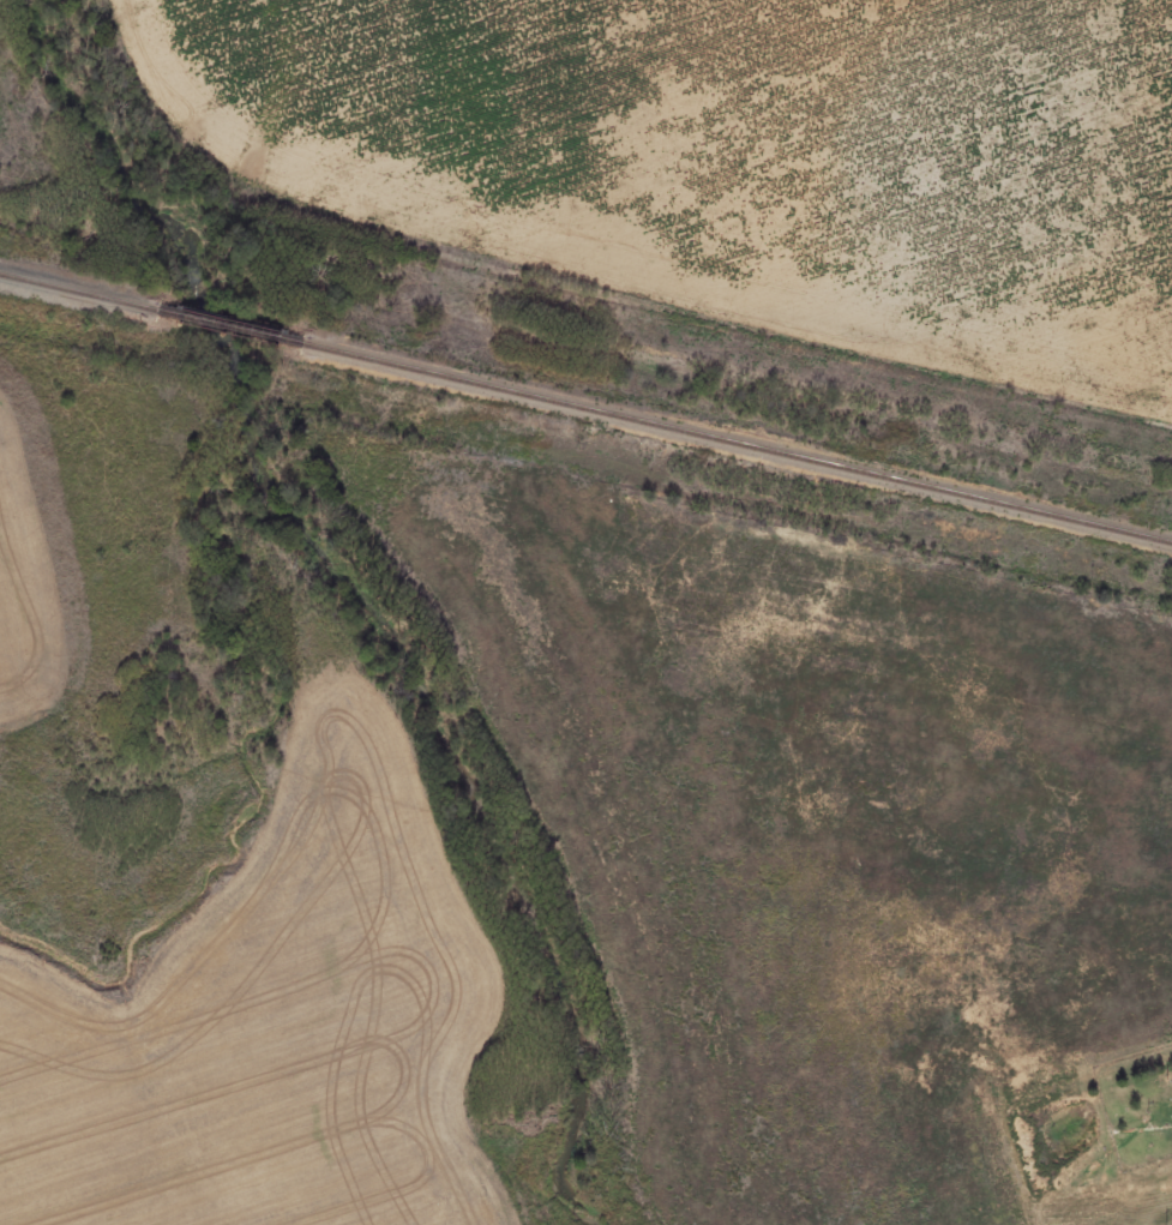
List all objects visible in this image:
railway: (77, 294)
railway: (227, 328)
railway: (735, 445)

